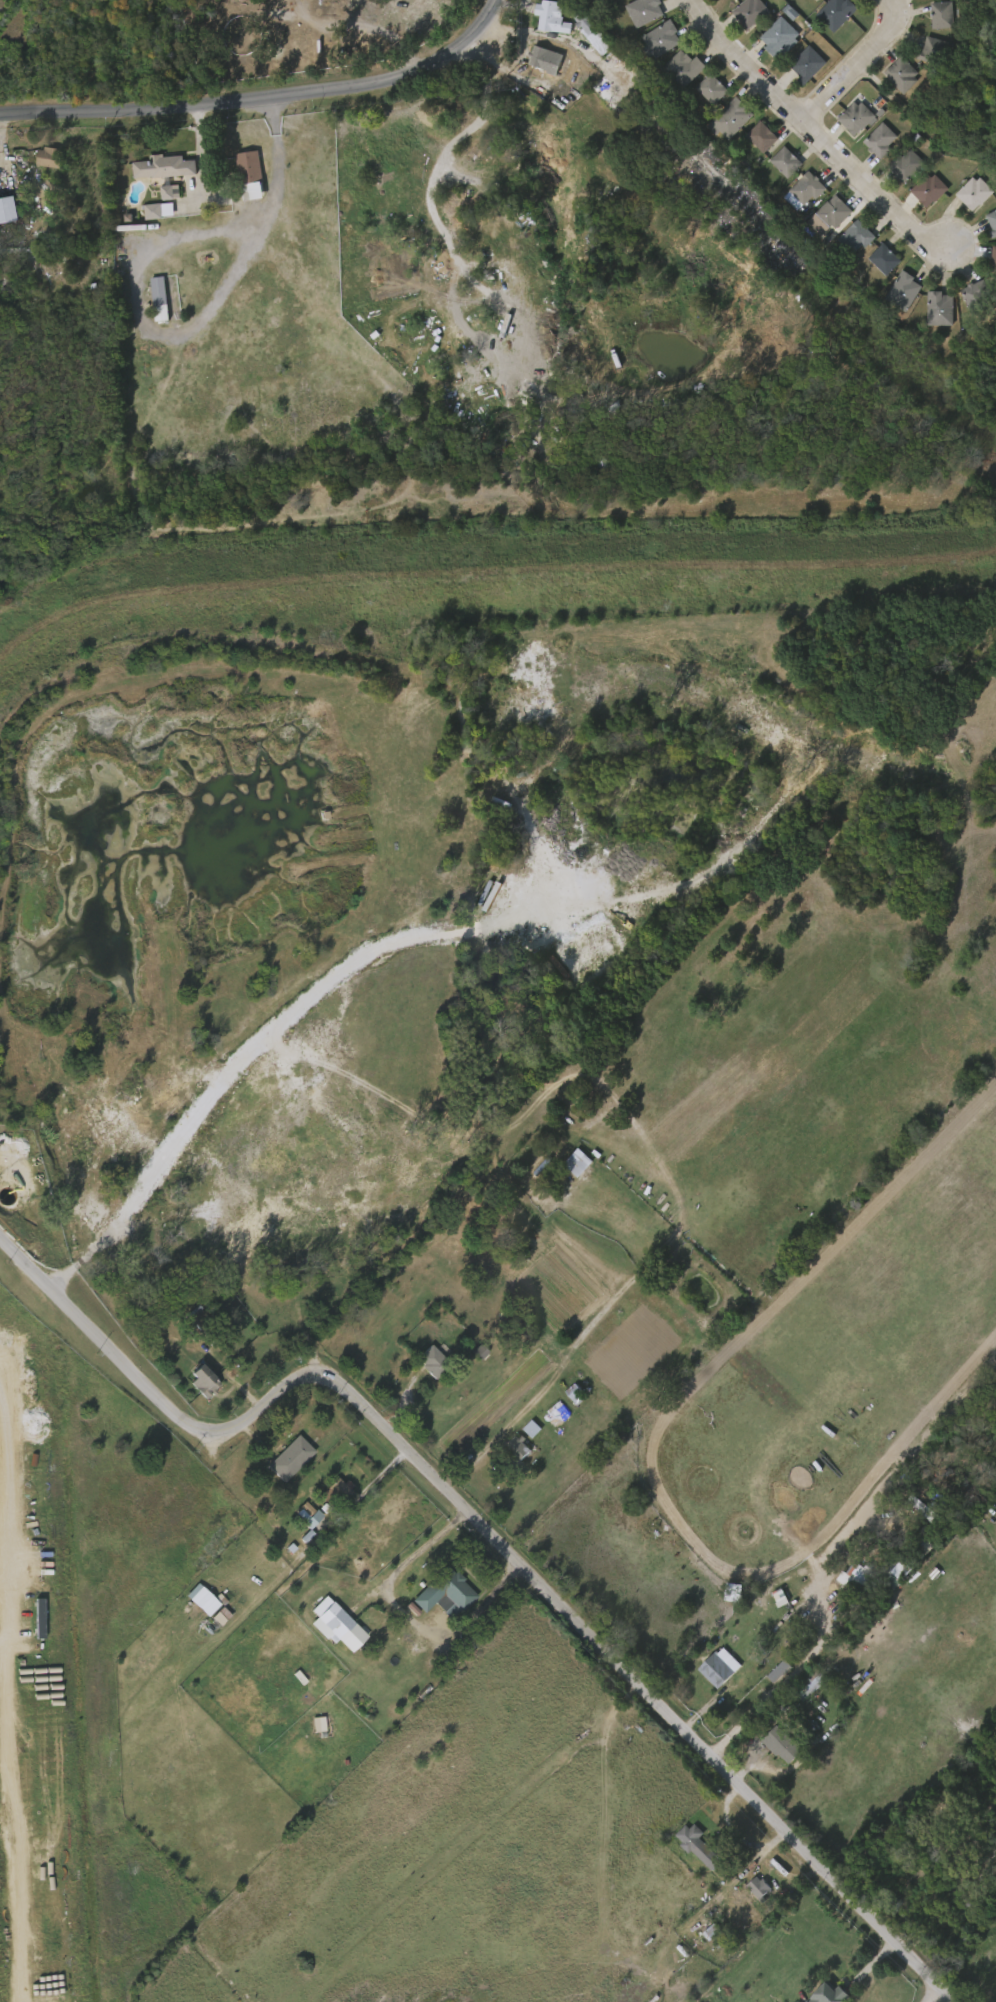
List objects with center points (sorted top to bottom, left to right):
building: (807, 2)
building: (643, 11)
building: (836, 12)
building: (750, 13)
building: (944, 15)
building: (550, 17)
building: (590, 32)
building: (781, 36)
building: (584, 39)
building: (660, 39)
building: (937, 51)
building: (543, 59)
building: (806, 64)
road: (856, 65)
building: (682, 68)
building: (901, 75)
building: (711, 89)
road: (266, 97)
building: (857, 116)
building: (732, 118)
road: (812, 130)
building: (761, 137)
building: (881, 140)
building: (49, 157)
building: (41, 161)
building: (785, 162)
building: (909, 165)
building: (248, 166)
building: (161, 167)
building: (930, 189)
building: (803, 191)
building: (975, 192)
building: (161, 196)
building: (6, 208)
building: (159, 210)
building: (835, 211)
building: (992, 223)
building: (858, 236)
building: (886, 259)
building: (994, 261)
building: (875, 263)
building: (904, 291)
building: (978, 296)
building: (160, 299)
building: (151, 303)
building: (941, 308)
building: (930, 313)
road: (184, 335)
road: (267, 1041)
building: (569, 1166)
building: (196, 1325)
road: (738, 1349)
building: (471, 1355)
building: (434, 1360)
building: (205, 1382)
building: (195, 1383)
building: (567, 1397)
building: (523, 1432)
building: (516, 1448)
road: (903, 1449)
building: (506, 1452)
building: (288, 1457)
building: (339, 1489)
building: (330, 1491)
building: (300, 1518)
road: (493, 1536)
road: (823, 1567)
building: (845, 1579)
building: (882, 1583)
building: (447, 1594)
building: (771, 1601)
building: (194, 1602)
road: (397, 1618)
building: (213, 1619)
building: (333, 1619)
building: (719, 1671)
road: (793, 1681)
building: (810, 1684)
building: (310, 1727)
building: (782, 1744)
building: (772, 1748)
building: (698, 1845)
building: (689, 1849)
building: (760, 1887)
building: (751, 1892)
building: (830, 1994)
road: (938, 1996)

